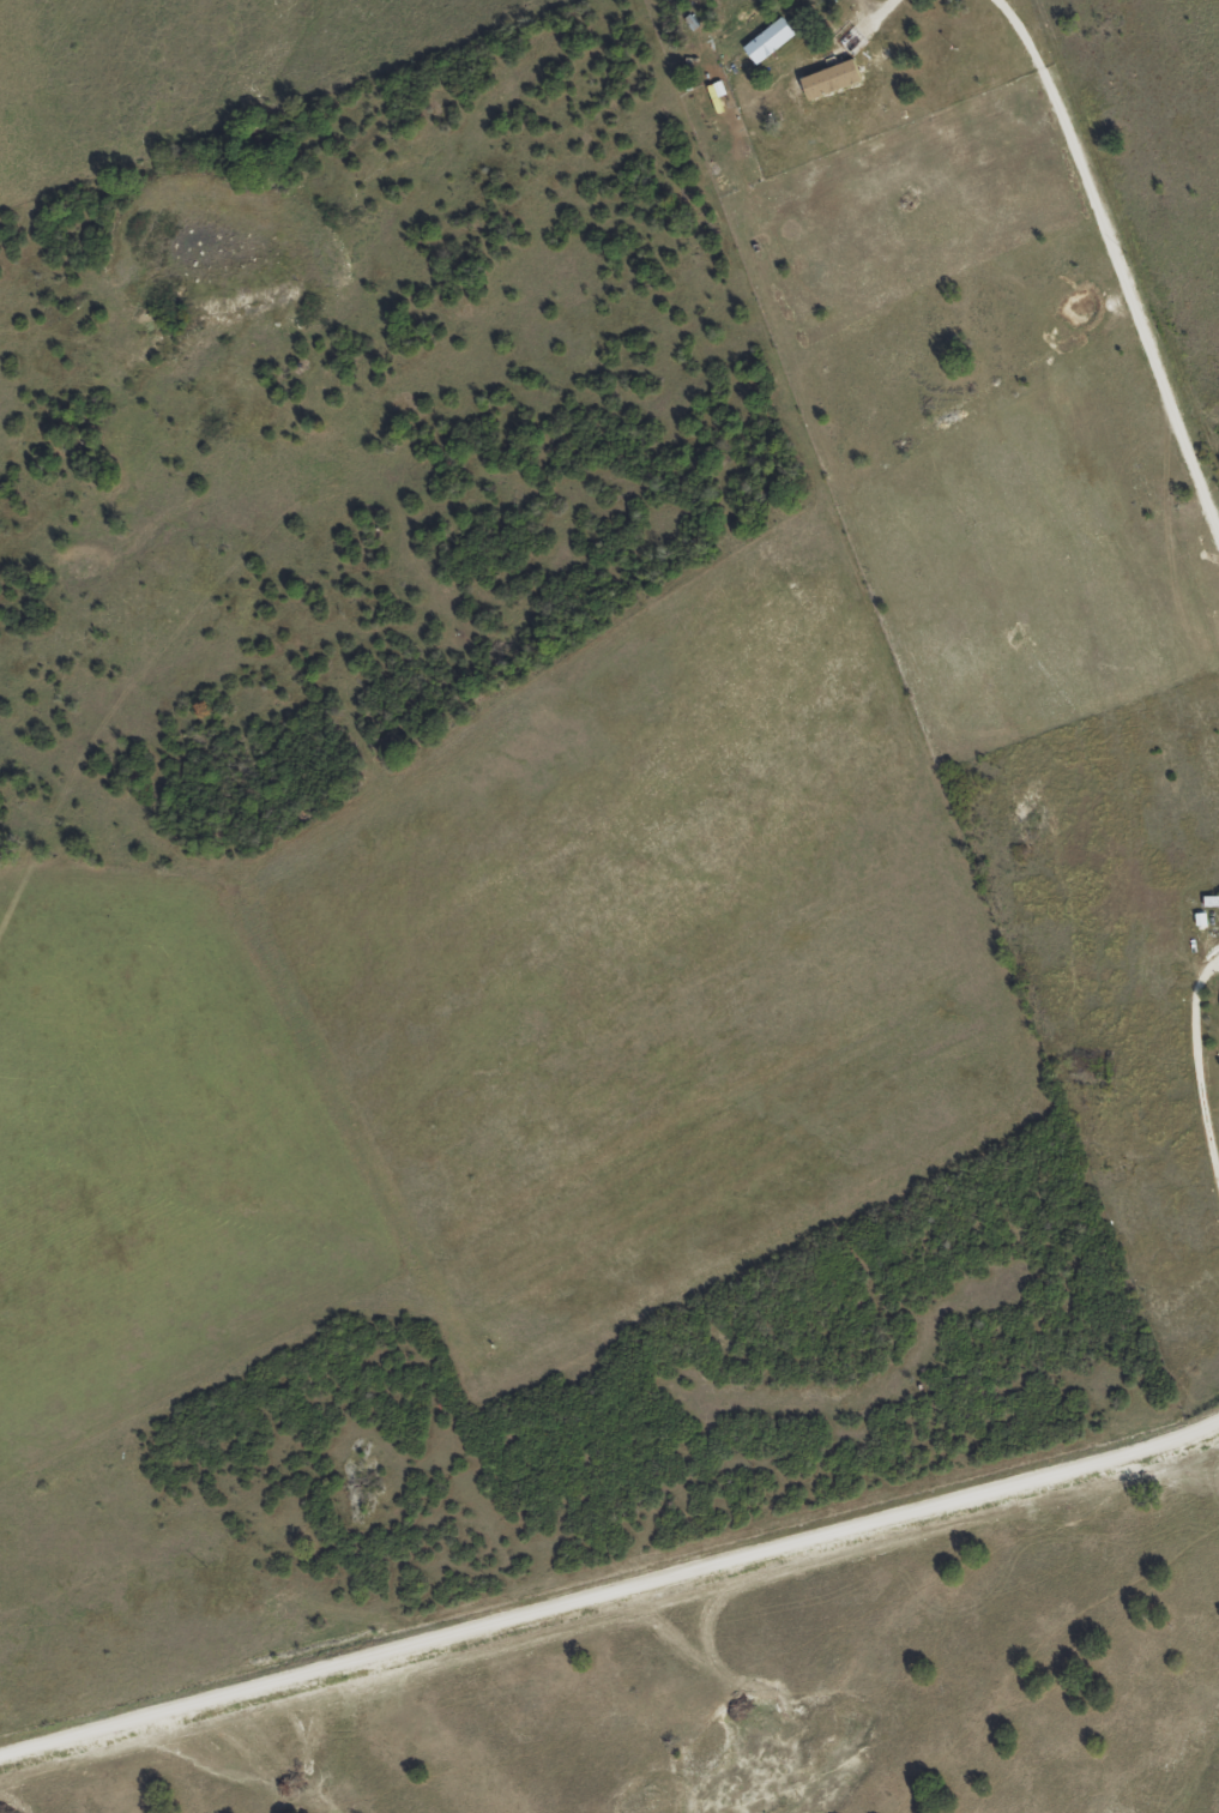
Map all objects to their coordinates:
building: (765, 40)
road: (997, 743)
building: (1209, 901)
road: (1091, 1367)
road: (934, 1393)
road: (611, 1591)

